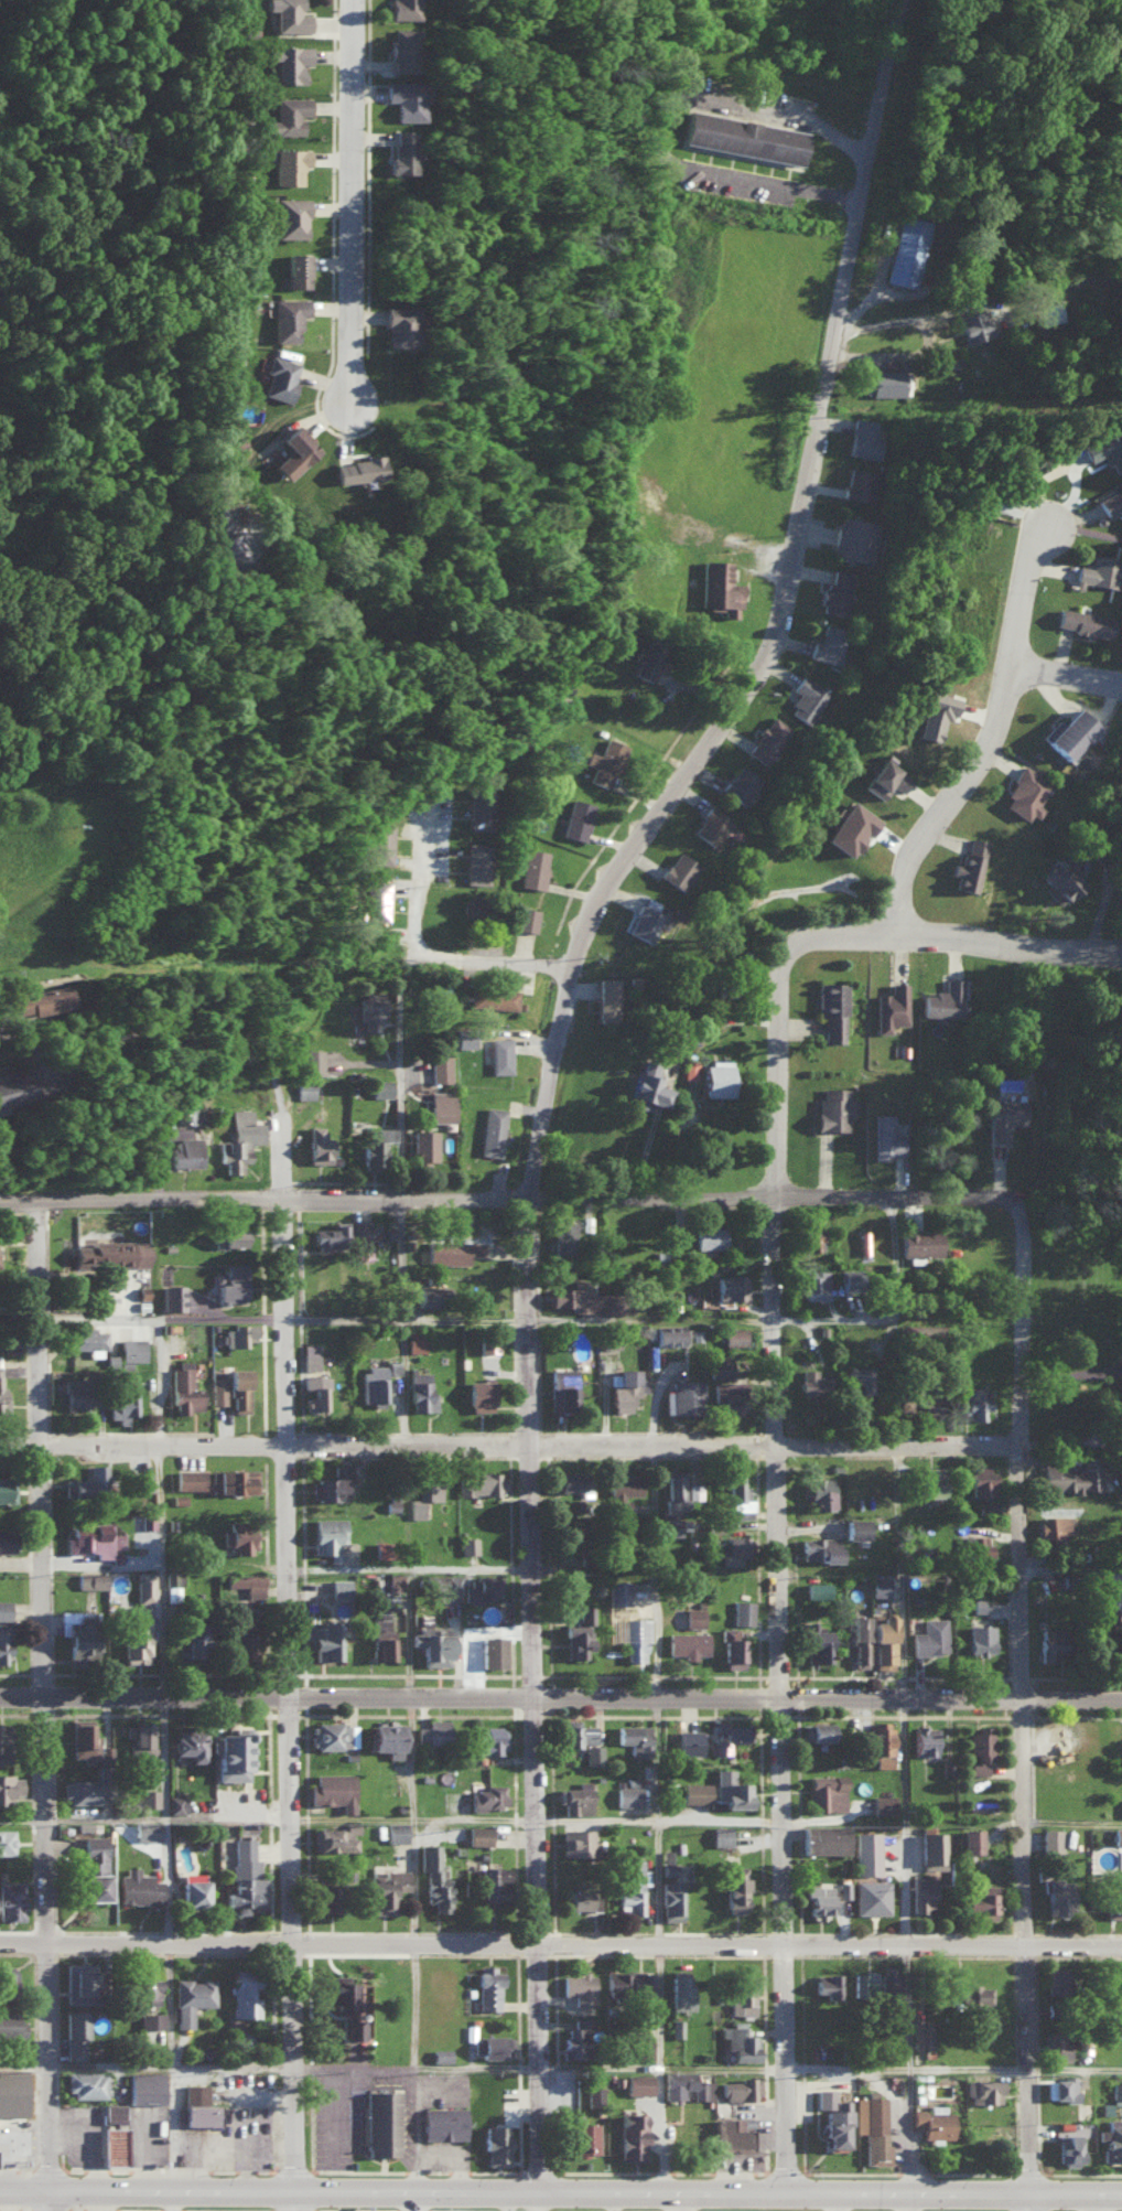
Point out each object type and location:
building: (404, 9)
building: (290, 15)
building: (403, 49)
building: (290, 62)
building: (404, 98)
building: (287, 115)
road: (668, 129)
building: (743, 136)
building: (400, 150)
building: (289, 164)
road: (363, 193)
building: (290, 216)
building: (908, 250)
building: (296, 269)
road: (863, 305)
building: (1047, 312)
building: (287, 316)
road: (929, 318)
building: (399, 325)
building: (974, 325)
road: (902, 356)
building: (279, 377)
building: (886, 382)
building: (863, 438)
building: (1105, 449)
building: (293, 451)
building: (356, 469)
building: (859, 483)
building: (856, 538)
road: (808, 544)
building: (1100, 571)
building: (720, 588)
building: (835, 591)
building: (1083, 621)
building: (828, 643)
building: (650, 656)
road: (1070, 687)
building: (806, 698)
building: (935, 713)
building: (1068, 733)
building: (767, 739)
road: (1003, 749)
building: (604, 761)
building: (885, 777)
building: (1121, 777)
building: (741, 784)
building: (1025, 793)
building: (481, 807)
building: (576, 818)
building: (710, 826)
building: (851, 828)
building: (380, 842)
building: (476, 862)
building: (970, 865)
building: (532, 868)
building: (679, 870)
building: (1059, 877)
road: (418, 882)
building: (377, 899)
building: (474, 908)
building: (525, 919)
building: (646, 923)
road: (962, 951)
road: (496, 965)
building: (633, 984)
building: (497, 998)
building: (605, 998)
building: (945, 999)
building: (42, 1000)
building: (891, 1007)
building: (370, 1009)
building: (830, 1009)
road: (160, 1023)
building: (464, 1037)
building: (499, 1053)
building: (312, 1061)
building: (440, 1066)
building: (690, 1066)
road: (399, 1074)
building: (716, 1075)
building: (647, 1084)
building: (15, 1086)
building: (380, 1086)
building: (304, 1090)
building: (441, 1105)
building: (832, 1107)
building: (187, 1110)
building: (1003, 1115)
building: (492, 1129)
building: (886, 1135)
building: (238, 1139)
building: (423, 1142)
building: (316, 1144)
building: (373, 1146)
building: (185, 1150)
road: (24, 1196)
road: (536, 1198)
building: (228, 1233)
building: (344, 1235)
building: (709, 1235)
building: (563, 1237)
building: (810, 1237)
building: (863, 1241)
building: (919, 1241)
building: (451, 1251)
building: (109, 1252)
building: (846, 1278)
building: (230, 1281)
building: (813, 1284)
building: (730, 1285)
building: (424, 1294)
building: (171, 1295)
building: (590, 1299)
road: (1032, 1319)
road: (402, 1320)
road: (50, 1321)
road: (535, 1321)
building: (238, 1332)
building: (669, 1333)
building: (734, 1334)
building: (85, 1338)
building: (414, 1340)
building: (608, 1340)
building: (487, 1341)
building: (131, 1348)
building: (310, 1355)
building: (719, 1365)
road: (1077, 1371)
building: (857, 1376)
building: (811, 1380)
building: (374, 1382)
building: (562, 1387)
building: (217, 1388)
building: (238, 1388)
building: (626, 1388)
building: (183, 1389)
building: (315, 1391)
building: (420, 1391)
building: (76, 1393)
building: (478, 1394)
building: (2, 1395)
building: (682, 1395)
building: (730, 1395)
building: (919, 1399)
building: (123, 1400)
building: (974, 1402)
road: (538, 1425)
road: (540, 1442)
road: (26, 1446)
road: (298, 1464)
building: (1074, 1474)
building: (187, 1478)
building: (233, 1479)
building: (981, 1479)
building: (140, 1480)
building: (928, 1480)
building: (87, 1481)
building: (331, 1482)
building: (481, 1482)
building: (7, 1488)
building: (622, 1490)
building: (820, 1491)
building: (423, 1493)
building: (737, 1495)
building: (673, 1503)
road: (1031, 1504)
building: (984, 1505)
building: (147, 1520)
building: (1051, 1524)
building: (855, 1526)
building: (240, 1534)
building: (327, 1535)
building: (89, 1537)
building: (2, 1538)
building: (468, 1544)
building: (974, 1544)
building: (819, 1547)
building: (734, 1549)
road: (107, 1563)
road: (1077, 1566)
road: (420, 1568)
road: (787, 1568)
road: (668, 1570)
building: (90, 1578)
building: (393, 1580)
building: (246, 1581)
building: (442, 1582)
building: (143, 1585)
building: (878, 1585)
building: (338, 1587)
building: (481, 1587)
building: (816, 1589)
building: (617, 1590)
building: (979, 1604)
building: (4, 1609)
building: (742, 1610)
building: (692, 1616)
building: (78, 1629)
building: (578, 1632)
building: (240, 1633)
road: (421, 1633)
building: (634, 1635)
building: (929, 1635)
building: (380, 1636)
building: (859, 1638)
building: (979, 1638)
building: (136, 1639)
building: (323, 1639)
building: (883, 1639)
building: (192, 1640)
building: (3, 1641)
building: (431, 1641)
building: (687, 1642)
building: (1050, 1642)
building: (817, 1643)
building: (732, 1647)
building: (492, 1650)
road: (561, 1698)
building: (818, 1730)
building: (432, 1731)
building: (576, 1732)
building: (332, 1734)
building: (726, 1734)
building: (82, 1737)
building: (385, 1737)
building: (634, 1737)
building: (139, 1738)
building: (492, 1739)
building: (1, 1740)
building: (688, 1740)
building: (923, 1740)
building: (186, 1741)
building: (880, 1741)
building: (979, 1748)
building: (230, 1752)
road: (914, 1752)
building: (592, 1753)
road: (662, 1760)
road: (164, 1767)
building: (947, 1767)
building: (9, 1785)
building: (731, 1788)
building: (82, 1789)
building: (332, 1789)
building: (826, 1791)
building: (627, 1792)
building: (694, 1792)
building: (487, 1795)
building: (148, 1796)
building: (574, 1797)
building: (175, 1803)
building: (883, 1803)
building: (1121, 1806)
road: (51, 1816)
road: (150, 1817)
road: (423, 1818)
road: (1078, 1821)
road: (424, 1822)
road: (668, 1822)
building: (145, 1829)
building: (395, 1831)
building: (455, 1831)
building: (478, 1834)
building: (1116, 1834)
building: (721, 1835)
building: (335, 1836)
building: (823, 1838)
building: (1051, 1838)
building: (972, 1839)
building: (6, 1840)
building: (575, 1840)
building: (932, 1849)
building: (865, 1852)
building: (666, 1860)
building: (91, 1867)
building: (244, 1876)
building: (433, 1877)
building: (494, 1883)
building: (138, 1886)
building: (632, 1886)
building: (735, 1888)
building: (843, 1888)
building: (384, 1889)
road: (1035, 1889)
building: (191, 1891)
building: (921, 1892)
building: (327, 1895)
building: (1059, 1895)
building: (1114, 1895)
building: (871, 1896)
building: (582, 1898)
building: (10, 1899)
building: (670, 1899)
building: (818, 1899)
building: (981, 1900)
road: (560, 1945)
building: (1057, 1978)
building: (6, 1981)
building: (616, 1981)
building: (863, 1981)
building: (78, 1982)
building: (639, 1982)
building: (827, 1982)
building: (888, 1983)
building: (1118, 1983)
building: (145, 1986)
building: (578, 1986)
building: (487, 1987)
building: (679, 1988)
building: (242, 1993)
building: (741, 1993)
building: (970, 1993)
building: (342, 1995)
building: (191, 1997)
road: (413, 2006)
road: (546, 2006)
road: (659, 2006)
road: (302, 2014)
building: (150, 2019)
building: (9, 2024)
building: (676, 2026)
building: (354, 2028)
building: (1120, 2029)
building: (920, 2032)
building: (74, 2033)
building: (239, 2036)
building: (576, 2038)
building: (740, 2042)
building: (495, 2044)
building: (1055, 2044)
building: (641, 2047)
building: (440, 2053)
road: (24, 2067)
road: (585, 2067)
building: (637, 2082)
building: (85, 2083)
building: (686, 2084)
building: (145, 2086)
building: (740, 2087)
building: (1060, 2087)
building: (983, 2090)
building: (11, 2092)
building: (1116, 2092)
building: (594, 2095)
building: (197, 2105)
building: (112, 2114)
building: (832, 2116)
building: (932, 2121)
building: (380, 2122)
building: (442, 2122)
building: (871, 2126)
building: (731, 2134)
building: (630, 2135)
building: (583, 2137)
building: (1111, 2139)
building: (495, 2144)
building: (111, 2145)
building: (1069, 2147)
road: (439, 2156)
road: (24, 2189)
road: (585, 2190)
road: (48, 2200)
road: (413, 2200)
road: (550, 2200)
road: (687, 2201)
road: (841, 2201)
road: (903, 2201)
building: (360, 2210)

